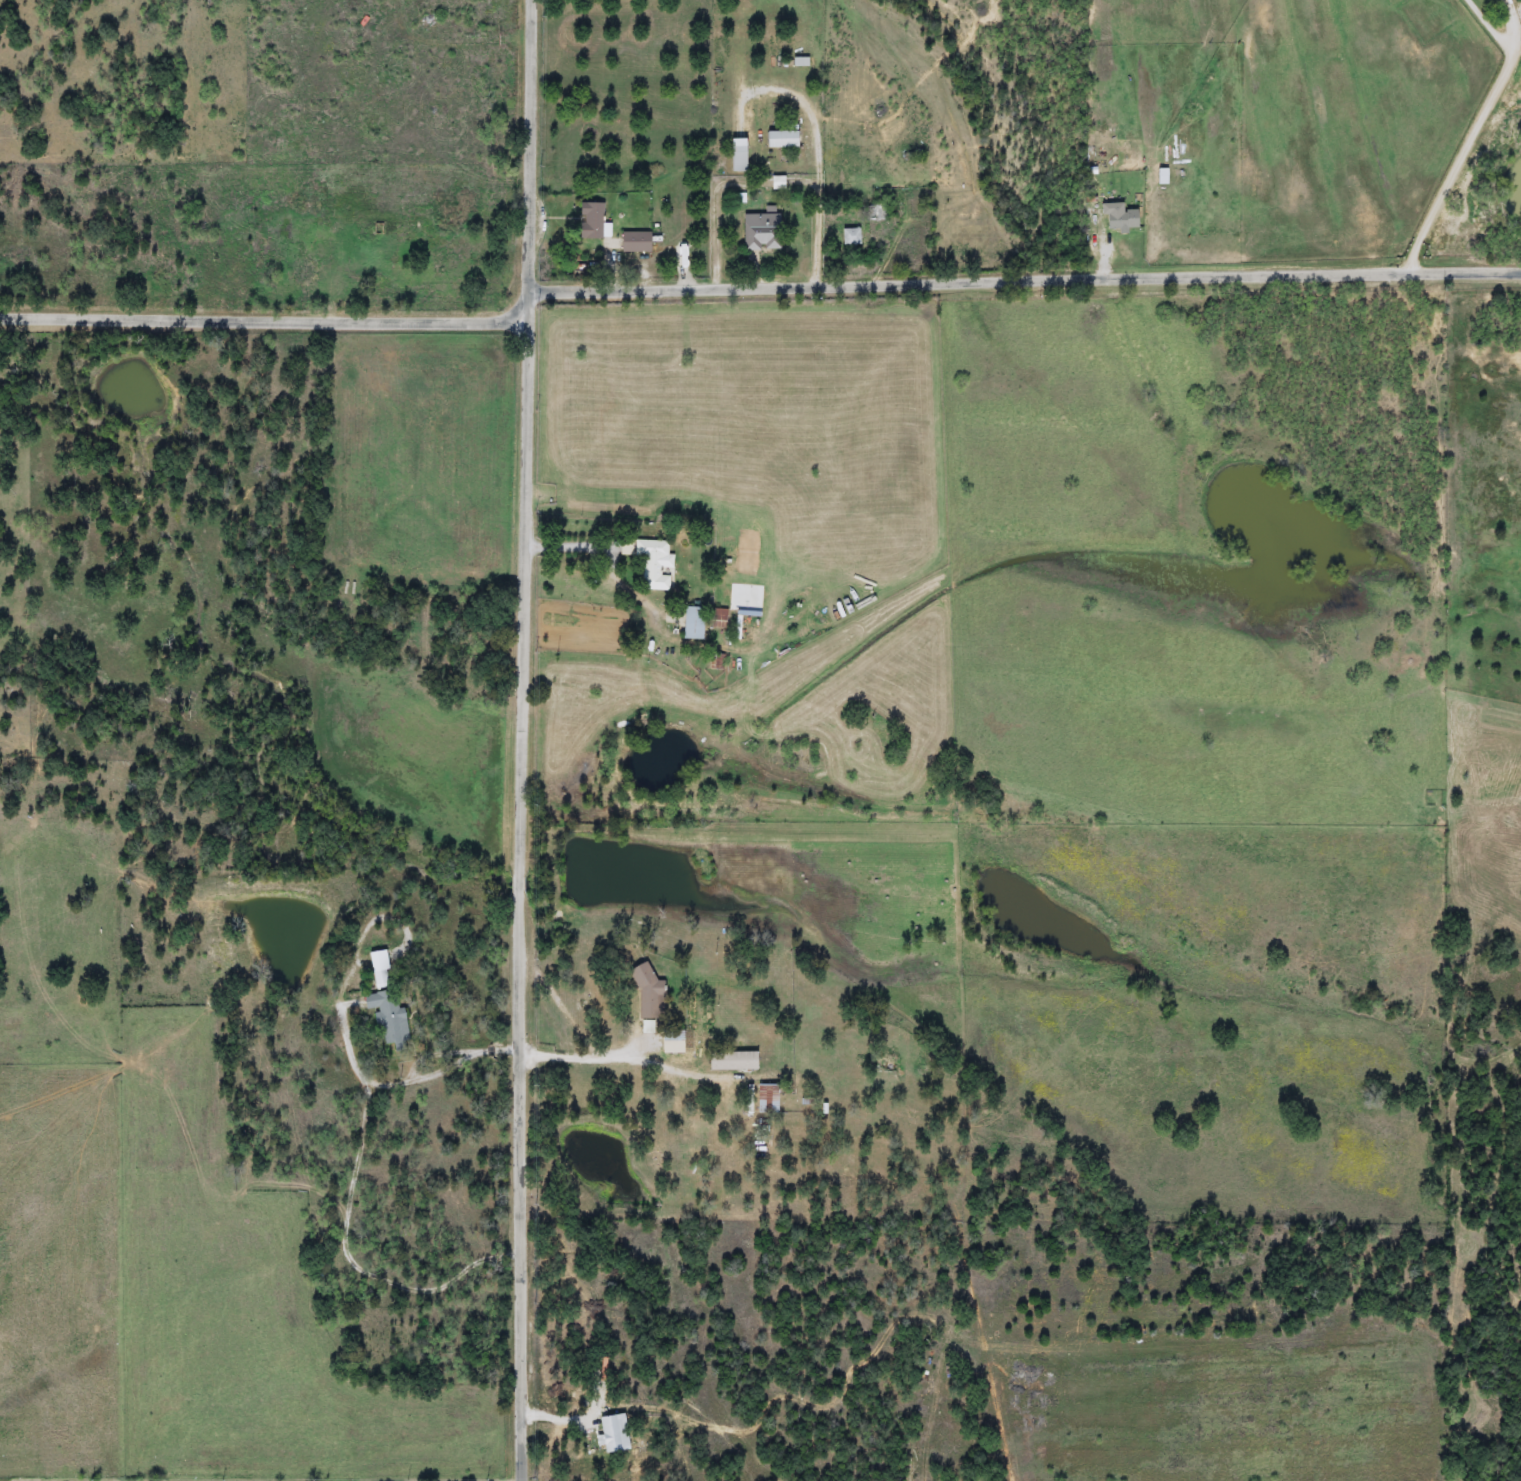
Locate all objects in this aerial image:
road: (1472, 134)
building: (781, 139)
building: (736, 159)
road: (1210, 187)
building: (876, 211)
building: (1120, 220)
building: (590, 221)
building: (761, 236)
building: (850, 237)
building: (635, 243)
road: (1025, 279)
road: (265, 321)
building: (651, 552)
road: (611, 557)
building: (718, 618)
building: (692, 623)
road: (522, 740)
building: (380, 970)
building: (648, 996)
building: (388, 1015)
building: (676, 1042)
road: (621, 1050)
building: (736, 1057)
road: (408, 1076)
building: (765, 1099)

